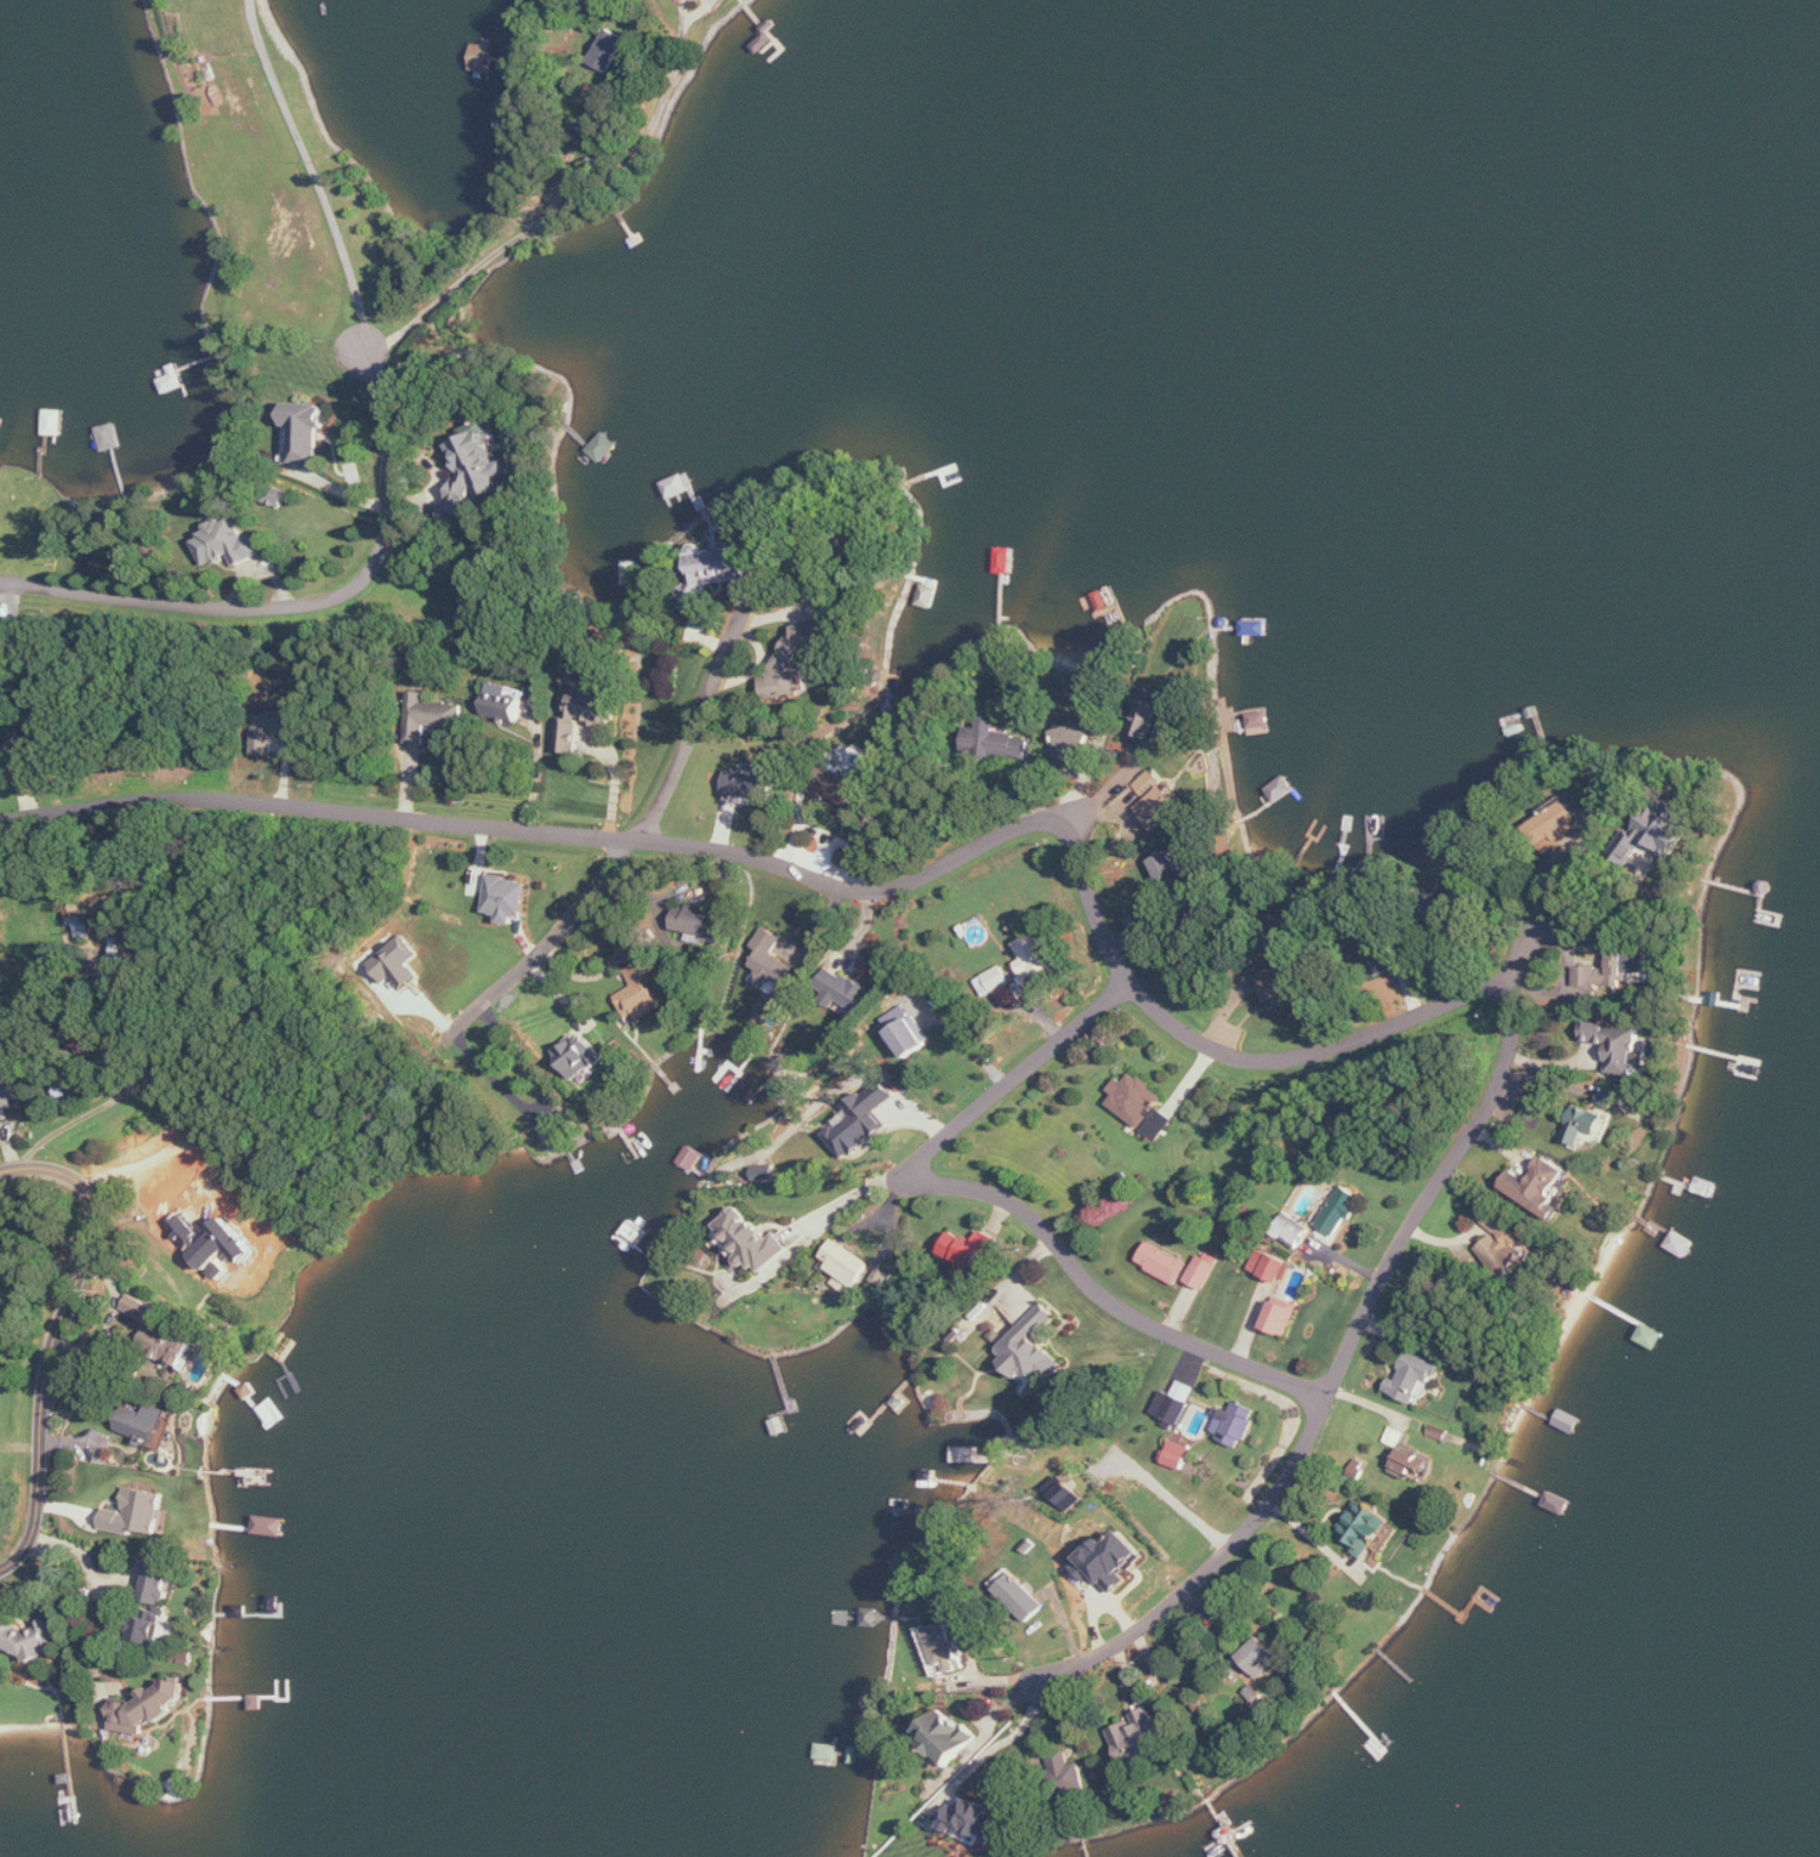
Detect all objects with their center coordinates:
building: (610, 50)
road: (309, 177)
road: (506, 238)
building: (0, 421)
building: (478, 464)
building: (718, 567)
road: (303, 617)
building: (15, 642)
building: (789, 655)
building: (507, 702)
building: (587, 714)
building: (434, 717)
building: (1150, 719)
building: (280, 728)
building: (1001, 740)
building: (1076, 743)
building: (23, 745)
building: (751, 783)
building: (1150, 784)
building: (842, 789)
road: (1108, 790)
building: (1164, 808)
building: (1602, 810)
building: (1554, 827)
building: (1653, 836)
road: (637, 846)
building: (1176, 871)
building: (510, 898)
road: (1576, 914)
building: (700, 924)
road: (1537, 924)
building: (772, 958)
building: (1035, 959)
building: (399, 962)
building: (1615, 971)
building: (1285, 983)
building: (999, 986)
road: (1134, 989)
building: (846, 993)
building: (641, 995)
building: (905, 1029)
building: (1621, 1045)
building: (581, 1055)
building: (7, 1096)
road: (541, 1103)
building: (1142, 1104)
road: (96, 1108)
building: (863, 1119)
building: (1588, 1124)
building: (1541, 1187)
road: (855, 1196)
road: (1005, 1199)
building: (1341, 1210)
building: (1293, 1232)
building: (753, 1239)
building: (968, 1248)
building: (228, 1250)
building: (1165, 1262)
building: (1270, 1265)
building: (848, 1266)
building: (1204, 1272)
building: (1282, 1316)
road: (53, 1338)
building: (1034, 1347)
building: (1416, 1378)
building: (1235, 1424)
building: (152, 1425)
building: (1178, 1454)
building: (1415, 1464)
building: (1065, 1493)
building: (138, 1512)
building: (271, 1526)
building: (1366, 1527)
building: (1111, 1561)
building: (161, 1585)
building: (1019, 1595)
road: (76, 1615)
building: (148, 1630)
building: (28, 1639)
building: (943, 1648)
building: (1262, 1657)
building: (150, 1708)
building: (948, 1736)
building: (1139, 1736)
building: (973, 1822)

